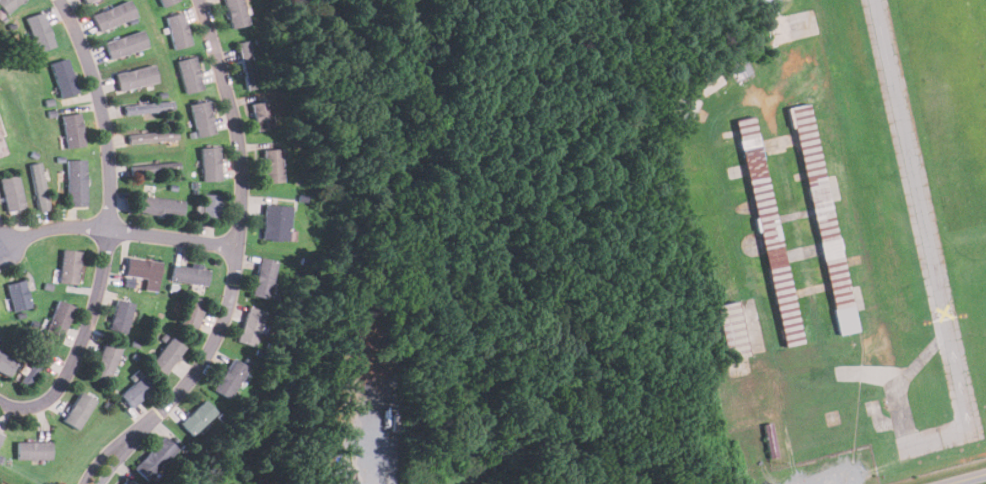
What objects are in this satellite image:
building: (86, 1)
building: (165, 2)
building: (7, 5)
building: (773, 5)
building: (234, 13)
building: (112, 15)
building: (780, 29)
building: (177, 30)
building: (39, 31)
building: (123, 44)
building: (246, 64)
building: (741, 69)
building: (61, 74)
building: (188, 74)
building: (134, 77)
building: (712, 83)
building: (147, 107)
building: (688, 109)
building: (261, 114)
building: (201, 117)
building: (71, 129)
building: (151, 136)
building: (209, 163)
building: (272, 165)
building: (153, 167)
building: (75, 183)
building: (38, 187)
building: (11, 193)
building: (157, 205)
building: (210, 206)
building: (275, 222)
building: (824, 222)
road: (111, 229)
building: (768, 230)
road: (120, 231)
road: (237, 264)
building: (68, 266)
building: (142, 268)
building: (188, 274)
building: (262, 277)
building: (17, 295)
building: (191, 312)
building: (119, 315)
building: (59, 318)
building: (249, 326)
building: (730, 330)
building: (166, 356)
building: (105, 360)
building: (6, 363)
building: (25, 374)
building: (229, 378)
building: (136, 390)
building: (78, 410)
building: (197, 417)
building: (0, 432)
building: (0, 435)
building: (770, 440)
building: (32, 450)
building: (155, 457)
road: (967, 479)
building: (127, 482)

